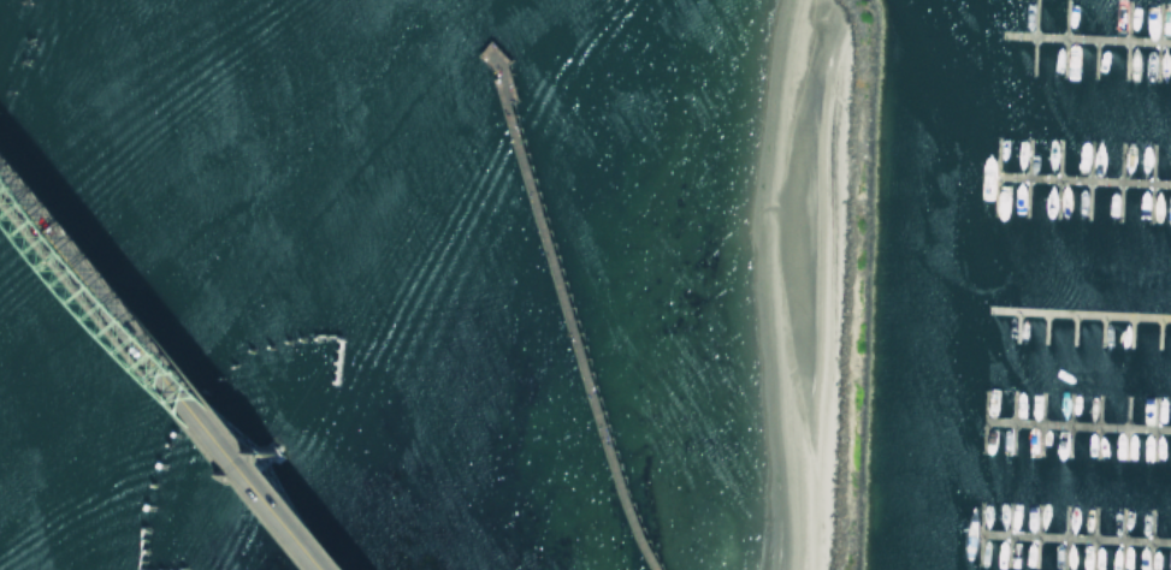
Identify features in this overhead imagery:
pier: (1084, 37)
pier: (1082, 176)
river: (164, 233)
pier: (561, 297)
pier: (1078, 313)
road: (179, 350)
road: (171, 360)
road: (162, 369)
pier: (1075, 424)
pier: (1075, 535)

